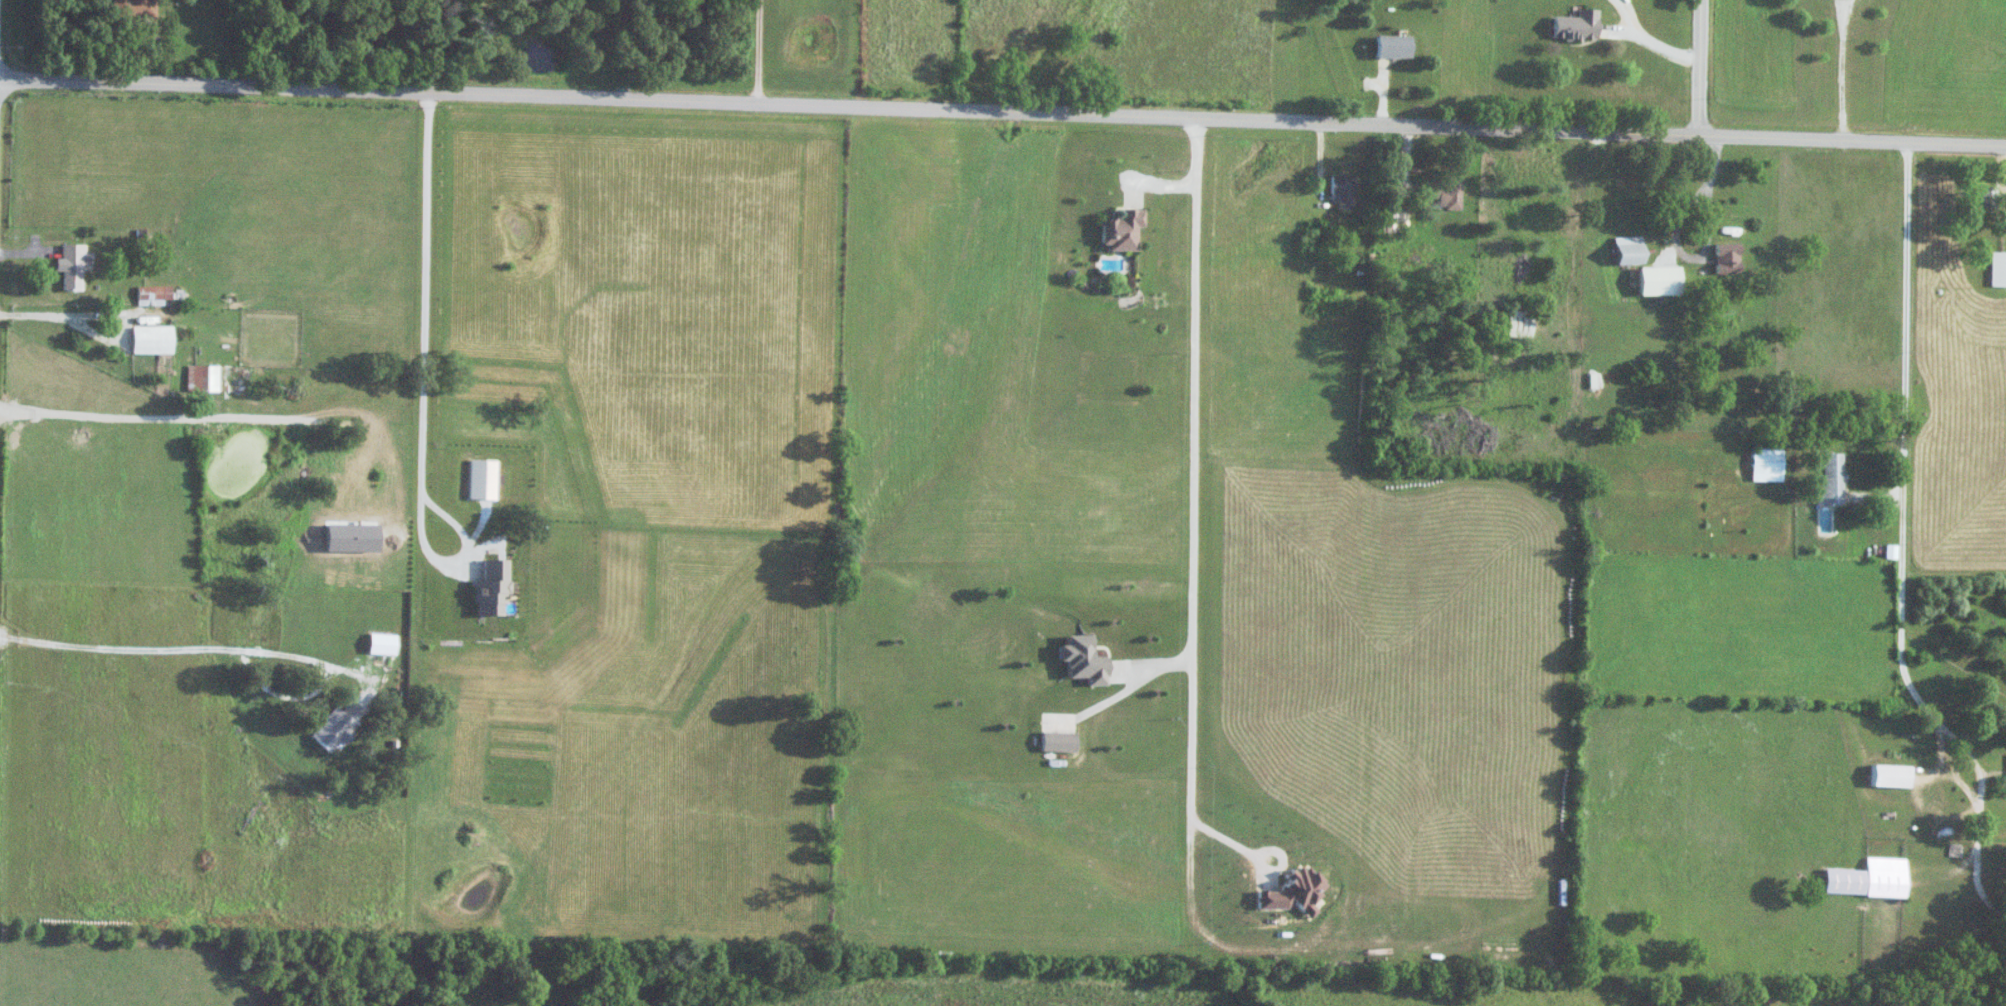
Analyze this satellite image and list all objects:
building: (133, 8)
building: (1575, 26)
building: (1392, 45)
road: (753, 52)
road: (1701, 68)
road: (1002, 113)
building: (1342, 190)
building: (1441, 192)
building: (1986, 198)
road: (1691, 208)
building: (1121, 230)
building: (1629, 250)
building: (1726, 258)
building: (71, 266)
building: (1997, 269)
building: (151, 295)
building: (1518, 323)
building: (150, 340)
building: (217, 379)
road: (421, 383)
building: (1764, 464)
building: (1829, 480)
road: (1194, 481)
road: (1904, 510)
building: (488, 589)
road: (1136, 679)
building: (1889, 776)
building: (1868, 878)

